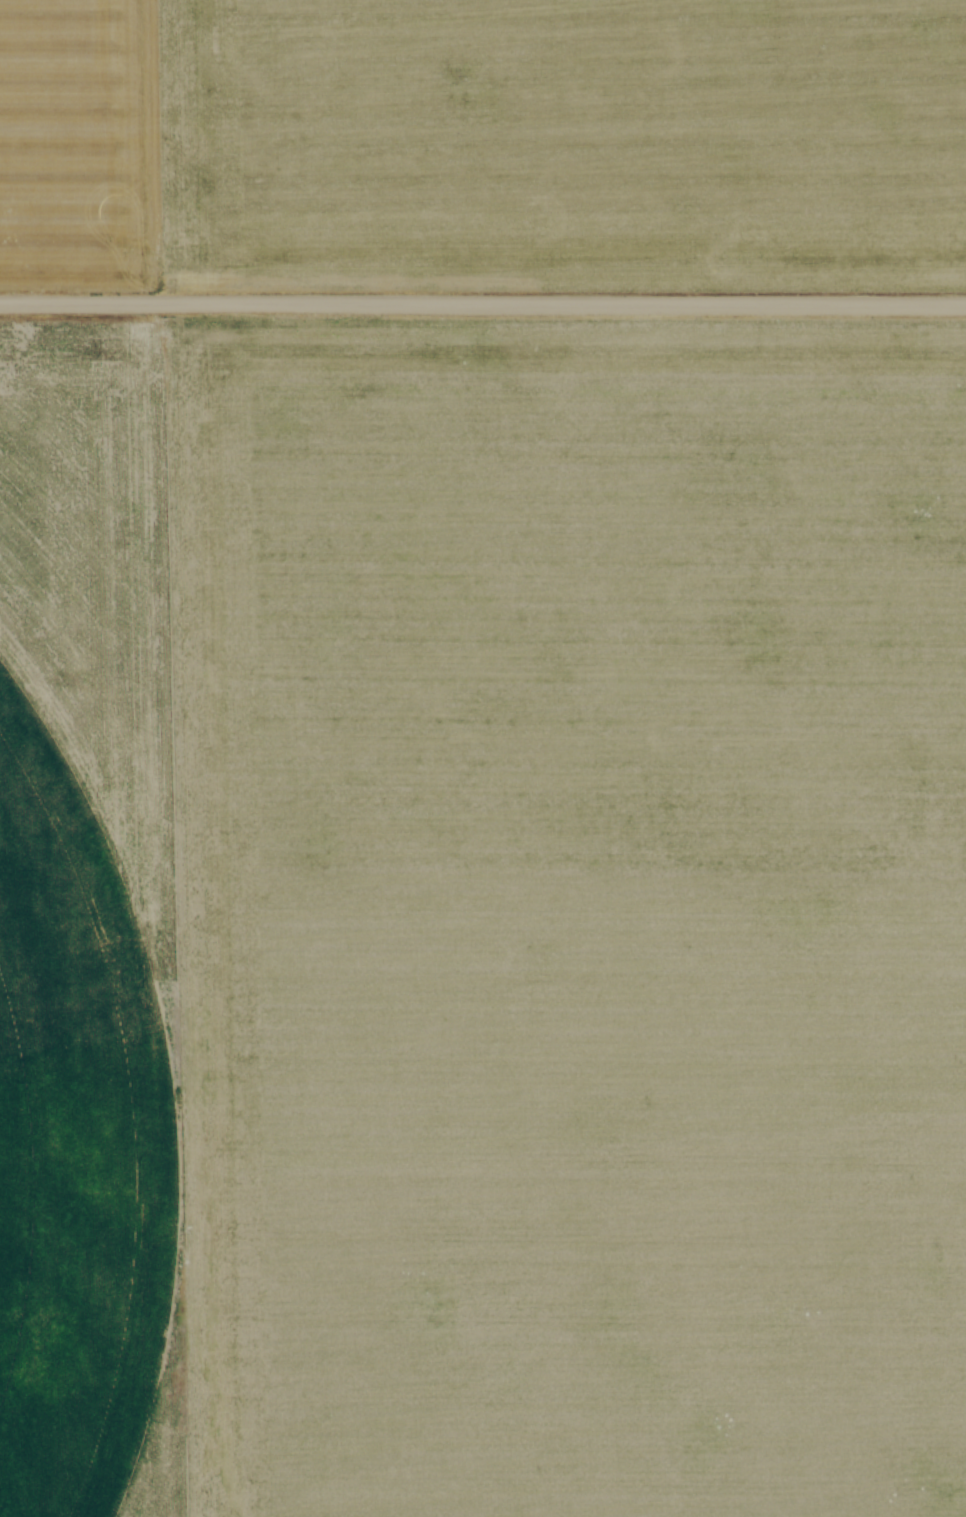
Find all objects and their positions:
crop: (483, 145)
road: (482, 303)
crop: (508, 942)

